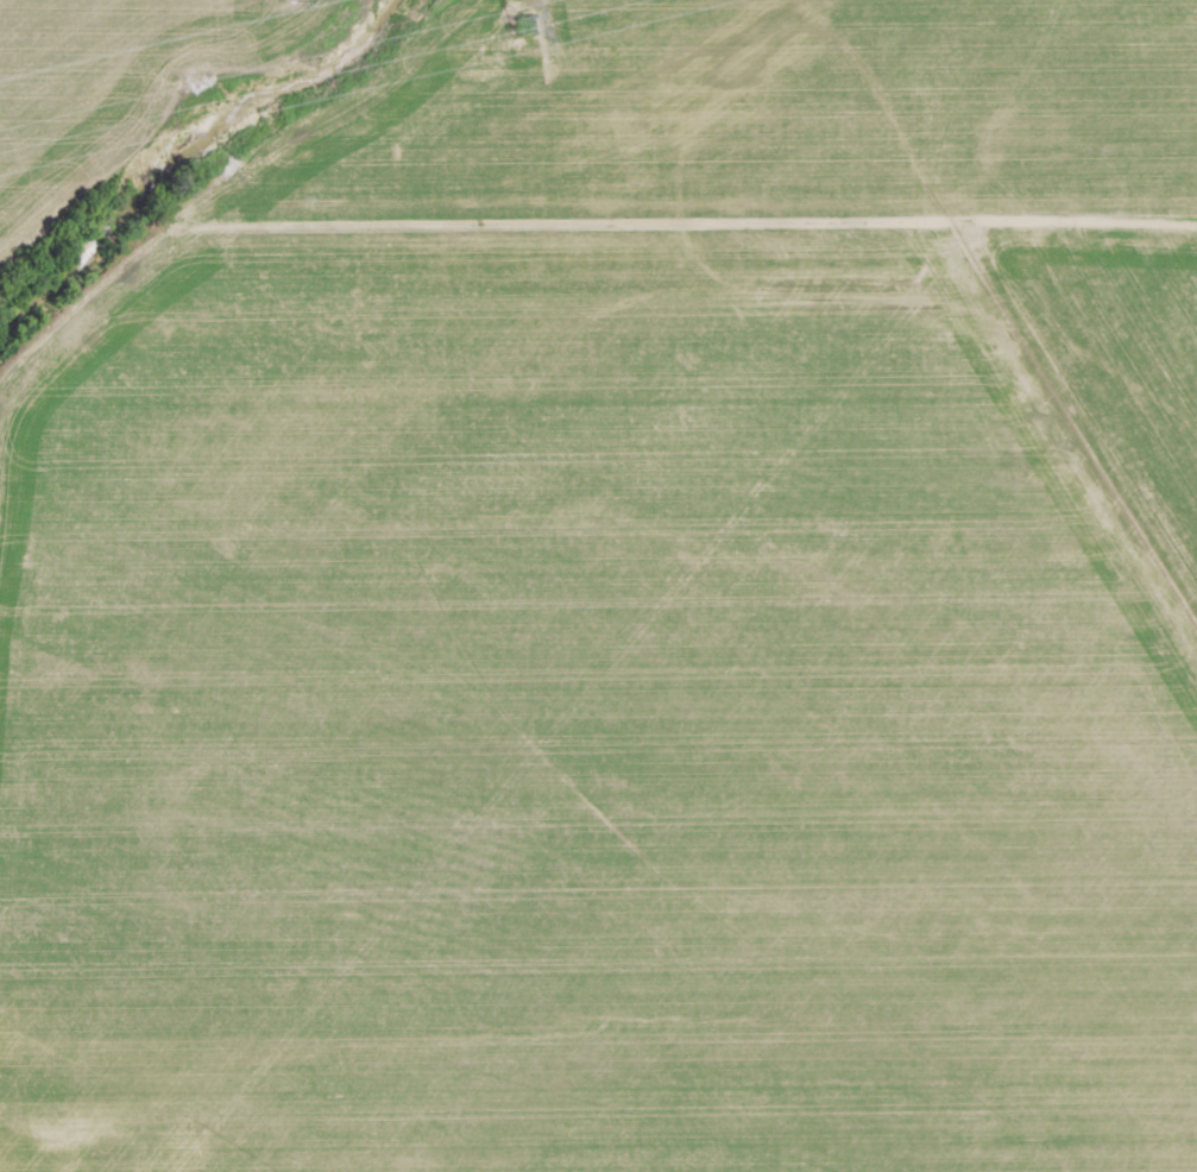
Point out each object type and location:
power tower: (525, 23)

